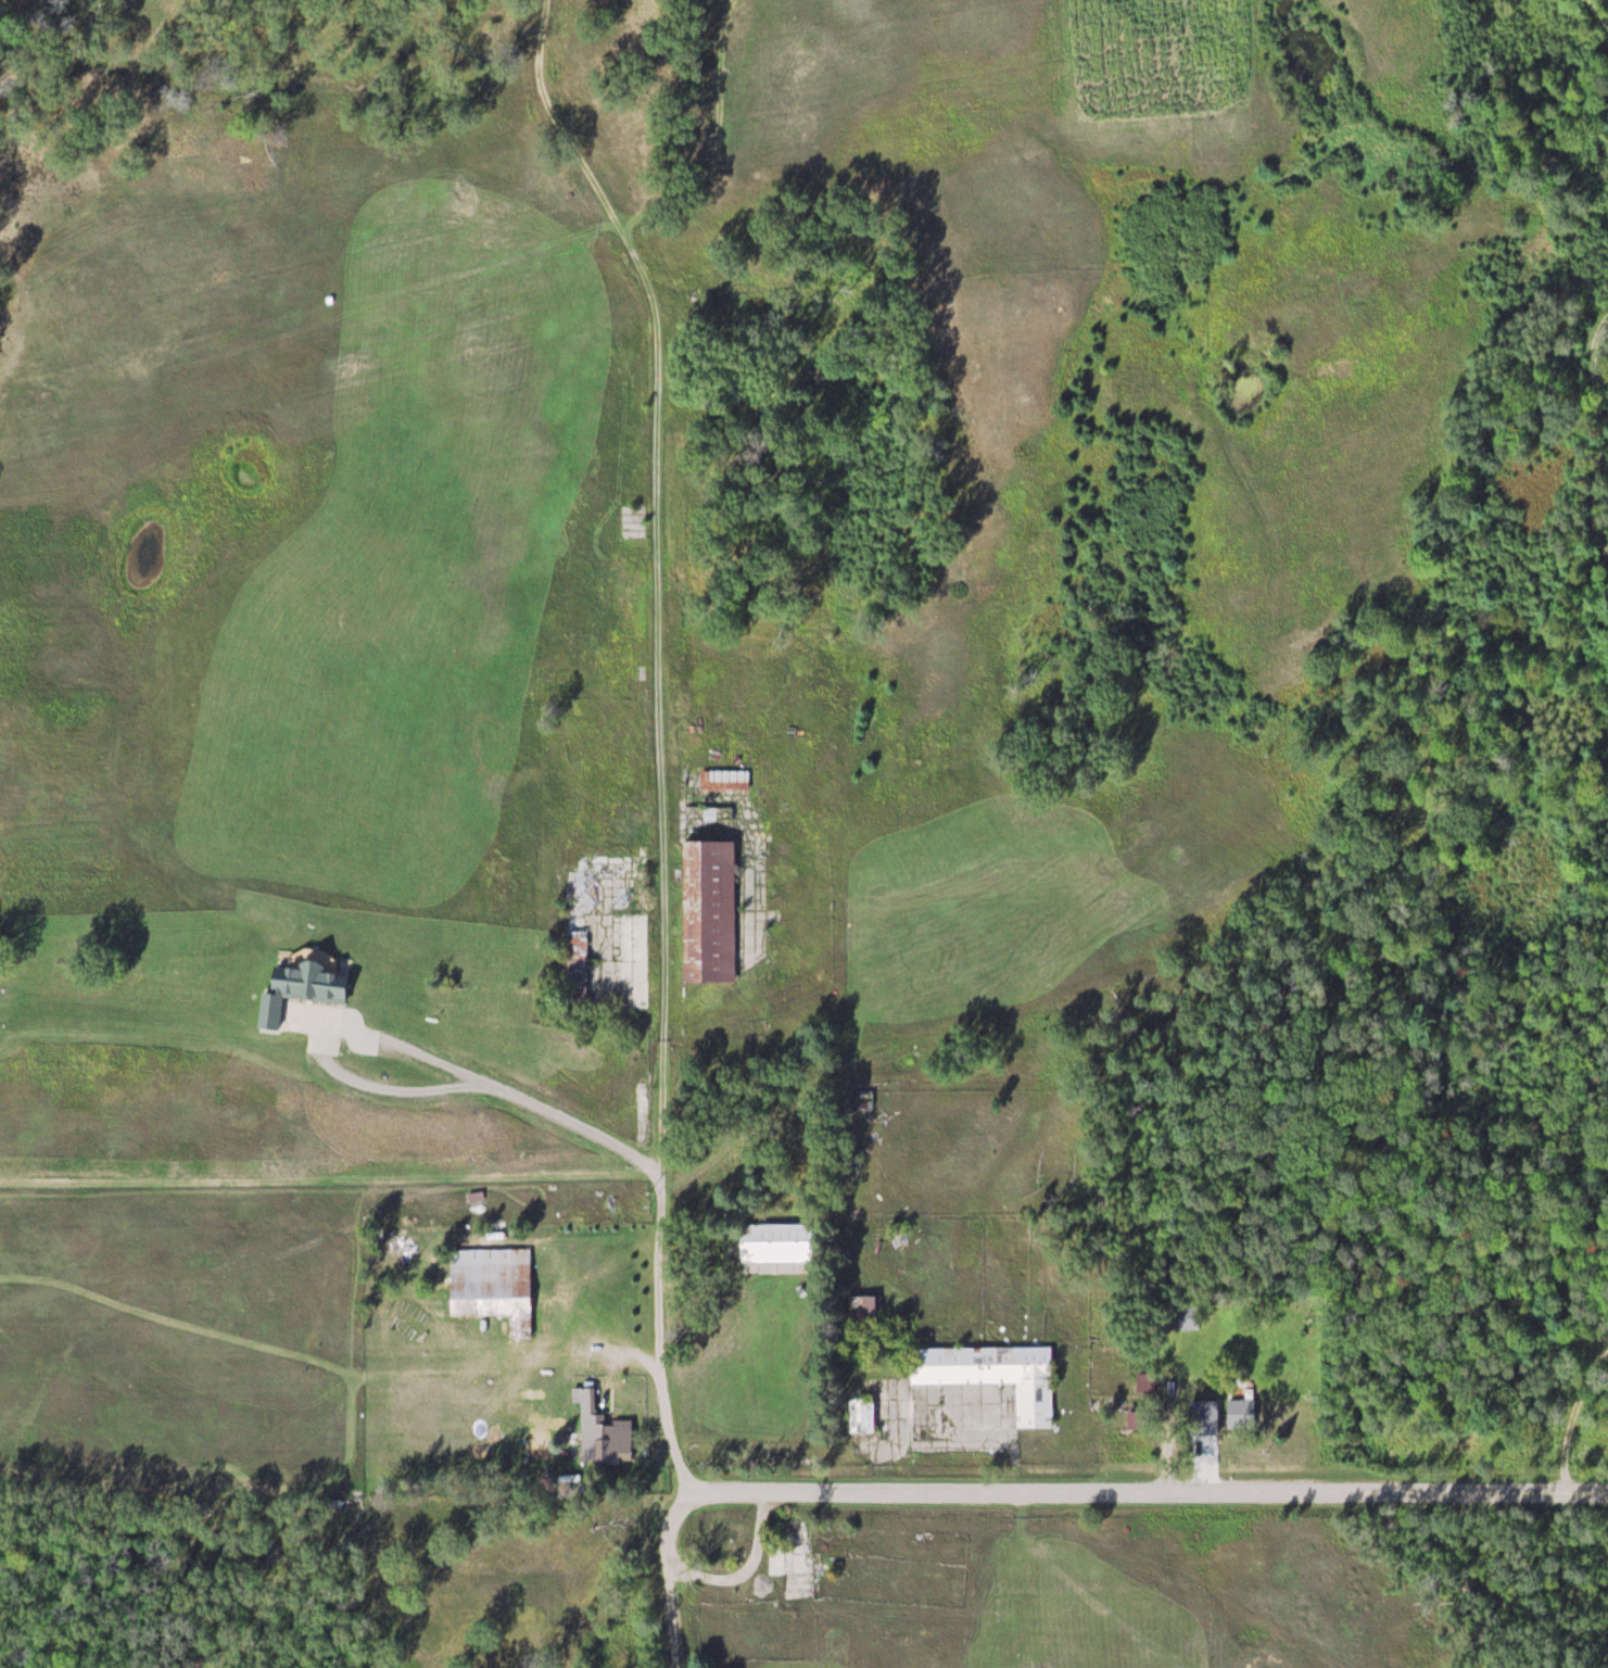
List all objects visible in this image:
road: (1574, 490)
road: (668, 746)
building: (726, 780)
building: (712, 911)
building: (587, 912)
building: (640, 960)
building: (305, 989)
building: (868, 1102)
building: (476, 1197)
building: (780, 1241)
building: (495, 1285)
building: (866, 1309)
building: (1191, 1323)
building: (997, 1375)
building: (1243, 1414)
building: (865, 1416)
building: (605, 1436)
road: (1061, 1489)
building: (725, 1539)
building: (782, 1559)
building: (834, 1563)

